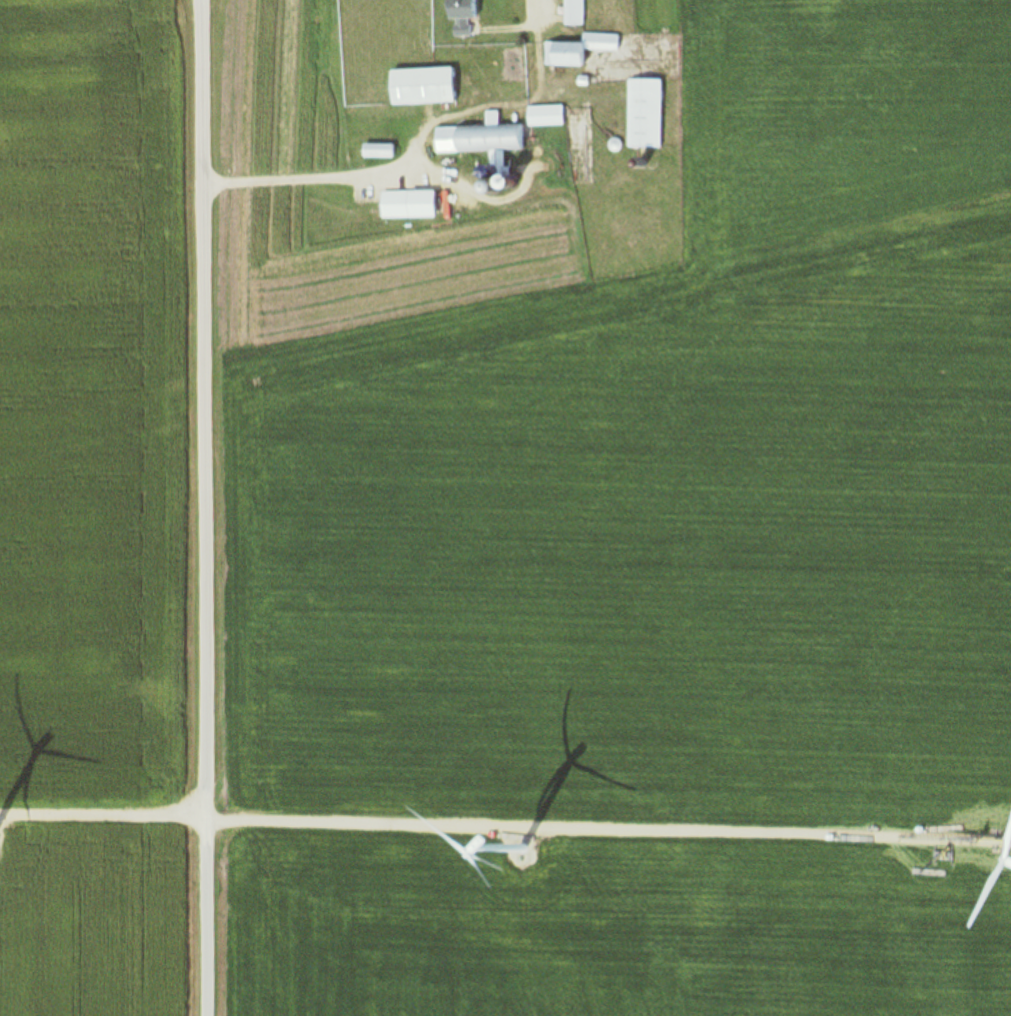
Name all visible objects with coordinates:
building: (461, 9)
road: (540, 12)
building: (575, 13)
building: (580, 50)
building: (421, 87)
building: (645, 114)
building: (546, 116)
building: (480, 137)
road: (429, 142)
building: (378, 151)
road: (348, 178)
building: (495, 183)
building: (406, 205)
road: (207, 507)
road: (505, 834)
building: (1004, 835)
wind turbine: (531, 866)

